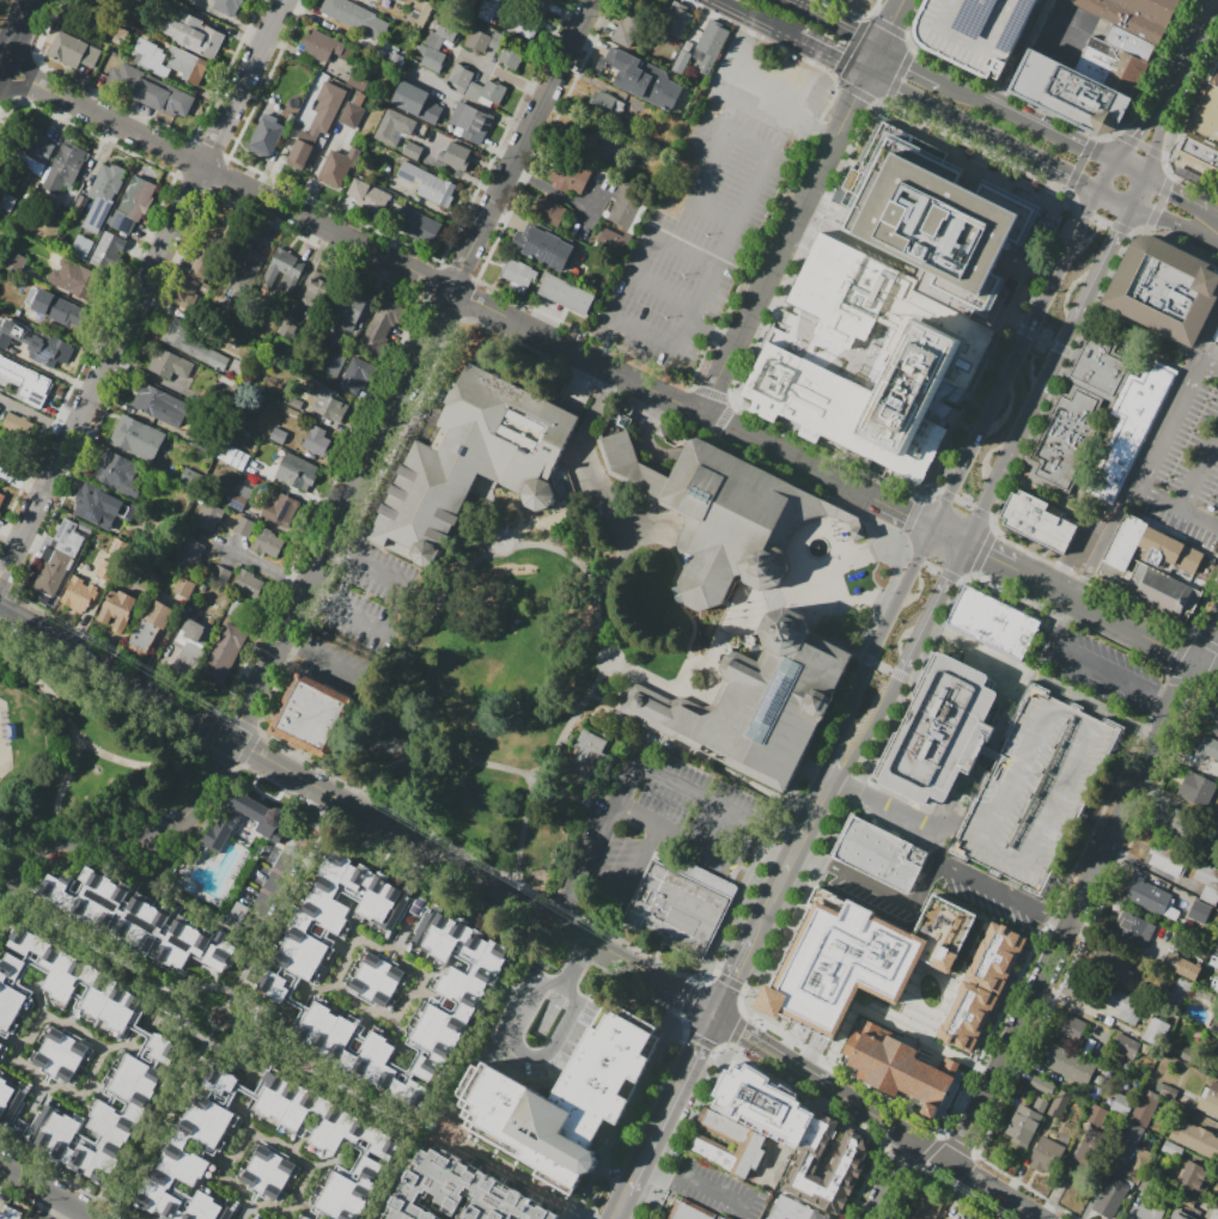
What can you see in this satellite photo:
building: (354, 0)
building: (1071, 0)
road: (1207, 2)
road: (1213, 2)
building: (465, 4)
building: (226, 6)
road: (791, 6)
building: (1159, 7)
building: (489, 12)
building: (419, 16)
building: (355, 17)
building: (1129, 18)
road: (750, 19)
building: (675, 23)
road: (889, 24)
traffic signals: (890, 24)
building: (525, 26)
building: (627, 30)
road: (840, 30)
building: (980, 31)
parking garage: (980, 31)
road: (18, 35)
building: (193, 35)
building: (440, 36)
building: (477, 41)
building: (710, 43)
building: (1132, 43)
building: (319, 47)
building: (73, 50)
road: (1187, 54)
road: (827, 55)
road: (1025, 55)
building: (151, 57)
building: (508, 57)
traffic signals: (833, 59)
building: (433, 60)
road: (871, 62)
building: (680, 63)
building: (187, 65)
traffic signals: (907, 65)
building: (1113, 66)
road: (912, 67)
building: (1213, 74)
building: (643, 79)
building: (464, 81)
road: (900, 91)
building: (492, 92)
building: (148, 93)
building: (1074, 93)
traffic signals: (854, 97)
road: (786, 99)
road: (853, 99)
building: (415, 102)
building: (608, 103)
building: (327, 106)
road: (487, 110)
building: (1205, 112)
building: (351, 115)
building: (470, 122)
road: (1028, 124)
building: (392, 127)
road: (976, 130)
road: (1134, 130)
building: (266, 135)
traffic signals: (1131, 136)
road: (1153, 141)
building: (32, 151)
building: (412, 151)
building: (300, 152)
building: (1199, 154)
building: (456, 157)
building: (337, 166)
building: (65, 167)
road: (1056, 170)
road: (1127, 171)
building: (566, 175)
traffic signals: (1068, 176)
road: (1104, 177)
building: (427, 184)
road: (701, 189)
road: (1137, 193)
traffic signals: (1169, 193)
building: (99, 196)
building: (369, 196)
road: (1115, 197)
road: (1177, 197)
building: (7, 201)
building: (133, 203)
building: (625, 206)
parking lot: (712, 206)
building: (547, 211)
building: (936, 220)
road: (1167, 221)
building: (419, 225)
road: (1211, 230)
road: (1217, 230)
traffic signals: (1120, 231)
building: (610, 243)
building: (81, 246)
building: (542, 248)
road: (682, 248)
building: (106, 251)
road: (720, 261)
building: (16, 262)
building: (196, 268)
road: (769, 269)
building: (284, 272)
building: (245, 273)
building: (519, 274)
building: (67, 284)
road: (141, 285)
road: (662, 288)
building: (317, 289)
building: (1164, 289)
building: (565, 294)
road: (469, 299)
building: (50, 309)
building: (343, 311)
building: (287, 327)
building: (379, 327)
road: (1140, 333)
building: (1216, 335)
road: (711, 336)
road: (1047, 341)
building: (35, 342)
building: (191, 343)
road: (1019, 360)
building: (1097, 361)
building: (333, 362)
building: (171, 365)
road: (1208, 365)
building: (10, 368)
road: (415, 370)
building: (934, 370)
road: (1048, 374)
building: (355, 376)
building: (36, 386)
road: (577, 386)
building: (293, 402)
building: (162, 406)
building: (330, 406)
building: (16, 423)
road: (414, 425)
building: (1129, 427)
building: (279, 435)
road: (644, 437)
building: (136, 438)
building: (1065, 438)
building: (321, 441)
building: (201, 444)
building: (2, 452)
building: (231, 456)
road: (603, 456)
road: (1151, 461)
building: (473, 462)
building: (254, 464)
parking lot: (1187, 465)
building: (296, 470)
road: (1200, 471)
building: (121, 474)
road: (598, 477)
traffic signals: (955, 494)
building: (1, 498)
building: (95, 501)
building: (237, 502)
road: (1176, 507)
building: (286, 511)
road: (491, 511)
building: (725, 514)
traffic signals: (907, 514)
building: (208, 516)
building: (1037, 522)
road: (540, 523)
building: (243, 526)
road: (553, 535)
road: (900, 537)
road: (952, 537)
building: (67, 538)
building: (267, 542)
fountain: (822, 548)
building: (1120, 548)
building: (1167, 550)
building: (191, 553)
road: (559, 554)
traffic signals: (987, 554)
road: (988, 554)
road: (675, 559)
road: (263, 566)
building: (105, 567)
building: (54, 573)
road: (390, 577)
building: (220, 578)
traffic signals: (951, 581)
building: (249, 583)
road: (854, 583)
road: (342, 584)
building: (183, 587)
building: (1161, 592)
building: (79, 596)
road: (890, 601)
parking lot: (364, 602)
building: (117, 609)
road: (936, 610)
road: (345, 612)
road: (1104, 612)
road: (1065, 614)
road: (5, 617)
road: (690, 617)
building: (994, 623)
road: (727, 626)
building: (150, 629)
building: (194, 636)
road: (841, 640)
road: (1207, 640)
road: (882, 644)
road: (980, 652)
building: (224, 656)
park: (523, 665)
road: (1208, 665)
road: (1094, 670)
parking lot: (1102, 672)
road: (404, 676)
road: (708, 694)
building: (760, 702)
road: (1165, 705)
road: (1097, 707)
building: (310, 713)
road: (573, 720)
building: (1091, 727)
building: (1214, 727)
road: (875, 731)
building: (943, 731)
building: (666, 742)
building: (1208, 749)
park: (79, 750)
road: (101, 752)
building: (992, 754)
building: (589, 760)
road: (836, 768)
road: (517, 774)
road: (304, 782)
road: (206, 785)
road: (631, 786)
road: (765, 791)
building: (1200, 791)
road: (62, 792)
parking lot: (1035, 792)
road: (897, 810)
building: (243, 822)
road: (814, 822)
building: (1176, 822)
parking lot: (646, 829)
road: (683, 843)
road: (73, 847)
road: (293, 855)
building: (883, 855)
road: (768, 858)
building: (1165, 860)
building: (1207, 874)
road: (629, 883)
road: (989, 884)
road: (781, 889)
road: (882, 894)
road: (4, 895)
building: (1150, 897)
road: (287, 898)
building: (416, 904)
building: (677, 909)
road: (1074, 910)
building: (1199, 913)
parking lot: (993, 916)
building: (140, 920)
building: (329, 925)
road: (763, 925)
building: (1137, 930)
road: (97, 947)
building: (1216, 949)
road: (578, 958)
building: (1108, 963)
building: (1181, 967)
road: (735, 977)
building: (938, 979)
building: (378, 981)
building: (846, 981)
road: (665, 987)
building: (63, 988)
building: (1179, 991)
building: (453, 993)
building: (981, 994)
road: (516, 998)
road: (230, 1001)
road: (199, 1005)
road: (552, 1005)
building: (1125, 1006)
road: (230, 1012)
traffic signals: (719, 1017)
road: (482, 1024)
building: (1071, 1025)
building: (1214, 1025)
road: (243, 1030)
building: (1156, 1030)
building: (142, 1031)
parking lot: (541, 1031)
road: (211, 1035)
road: (244, 1047)
building: (341, 1047)
building: (1127, 1047)
building: (4, 1049)
building: (1216, 1049)
building: (61, 1054)
road: (525, 1055)
building: (1188, 1055)
building: (1068, 1065)
building: (903, 1067)
building: (1042, 1086)
building: (1210, 1099)
building: (562, 1101)
building: (1059, 1102)
building: (1121, 1103)
road: (671, 1104)
building: (761, 1104)
building: (1144, 1108)
building: (91, 1111)
building: (1097, 1116)
road: (879, 1119)
building: (1024, 1123)
road: (420, 1129)
road: (157, 1130)
building: (1131, 1135)
building: (1195, 1139)
building: (749, 1141)
building: (330, 1145)
building: (1171, 1150)
building: (1092, 1151)
building: (1046, 1157)
building: (190, 1158)
building: (824, 1162)
building: (1139, 1165)
road: (2, 1171)
building: (269, 1171)
road: (656, 1175)
road: (398, 1176)
road: (891, 1178)
building: (1194, 1181)
parking lot: (718, 1189)
road: (48, 1191)
building: (459, 1193)
building: (1110, 1197)
road: (713, 1200)
road: (623, 1207)
building: (926, 1207)
building: (787, 1209)
building: (689, 1211)
building: (8, 1212)
building: (1149, 1212)
building: (1181, 1214)
building: (814, 1215)
road: (623, 1217)
building: (304, 1218)
building: (307, 1218)

